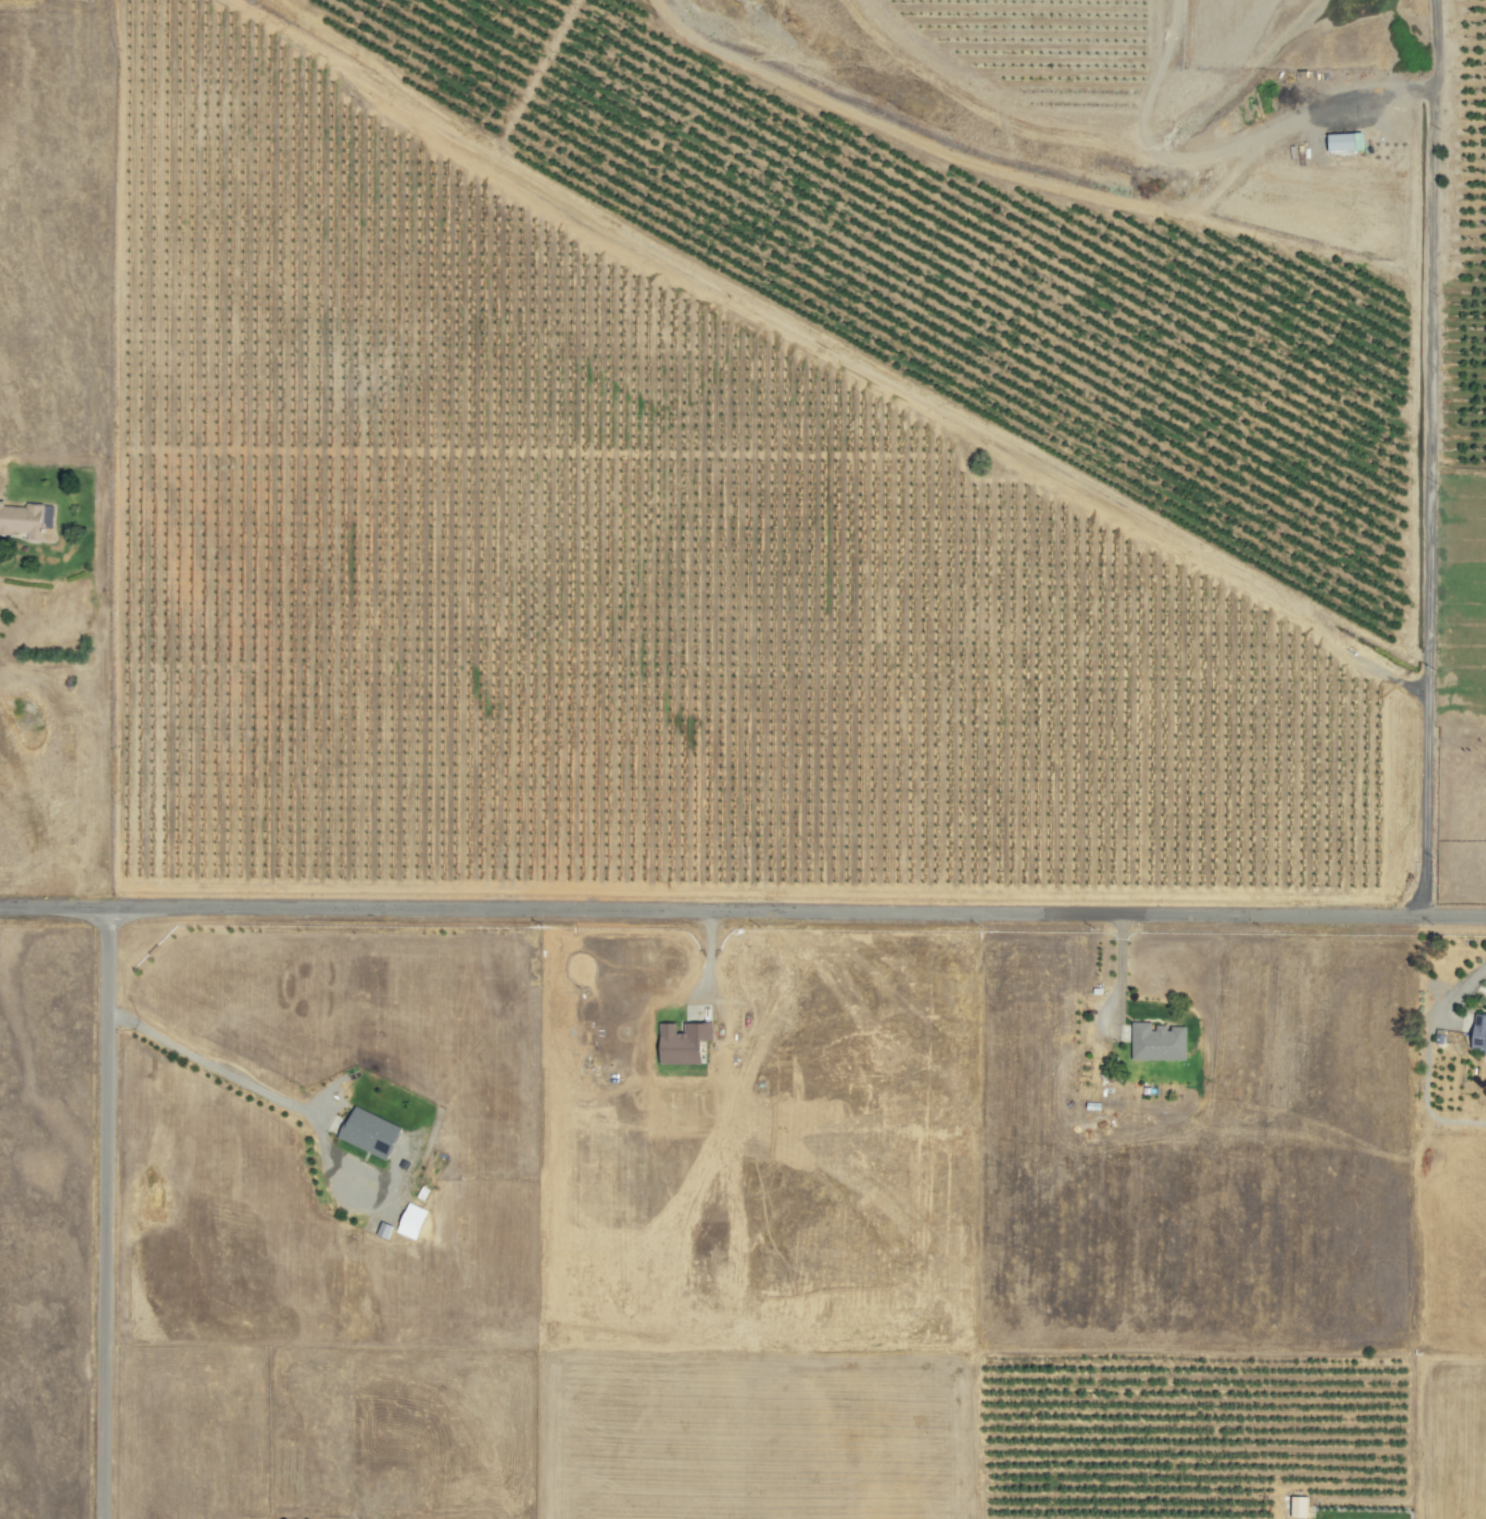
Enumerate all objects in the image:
building: (1339, 141)
road: (1427, 456)
building: (23, 520)
road: (742, 911)
building: (1476, 1033)
building: (1153, 1041)
building: (683, 1042)
road: (251, 1087)
building: (370, 1132)
road: (102, 1214)
building: (1295, 1506)

